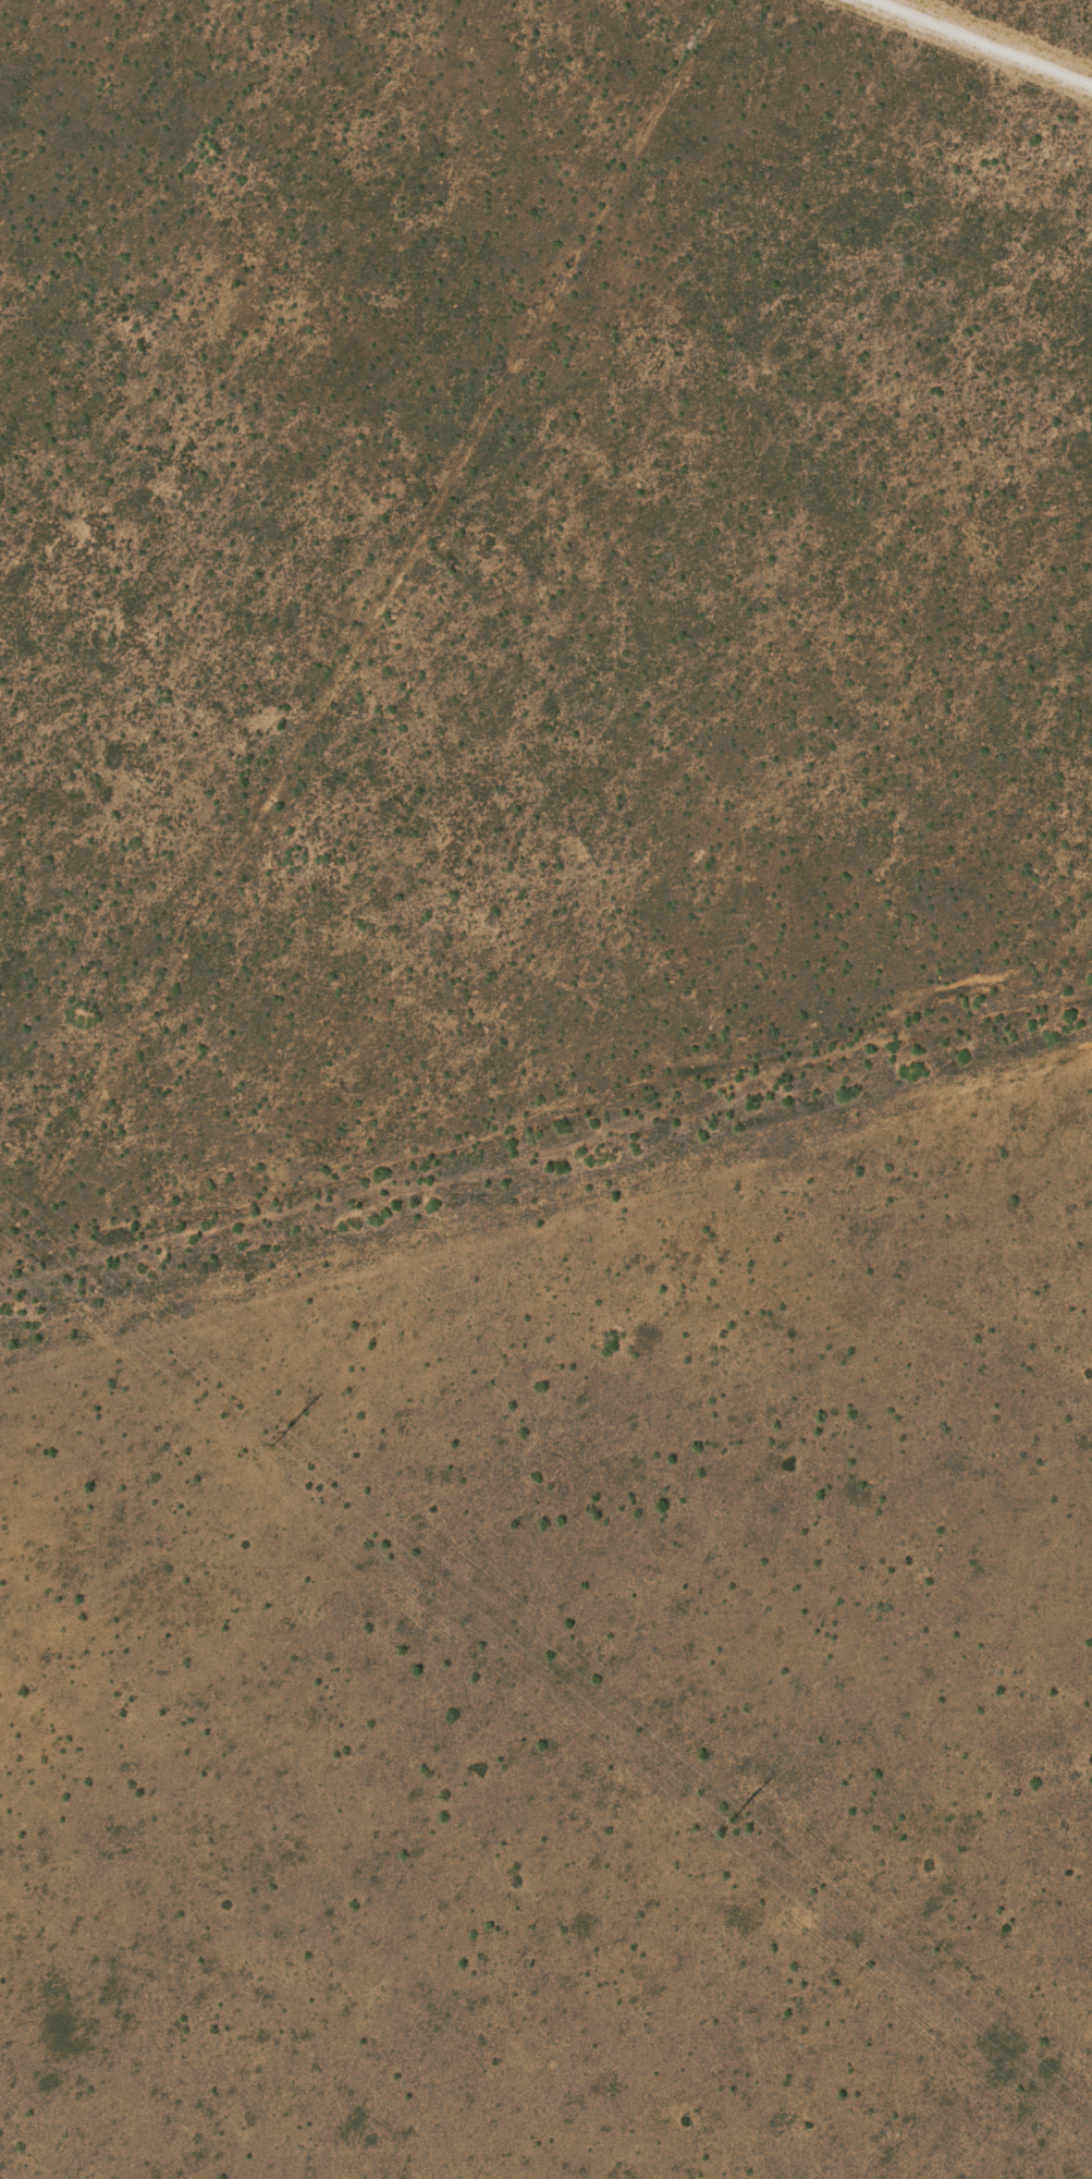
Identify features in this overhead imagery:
power tower: (278, 1437)
power tower: (728, 1822)

